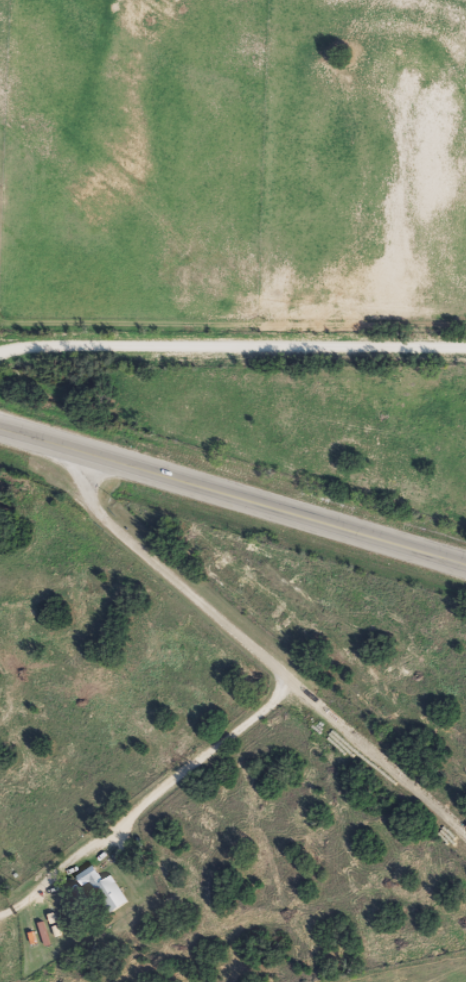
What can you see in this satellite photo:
road: (231, 357)
road: (233, 494)
road: (279, 635)
road: (171, 818)
building: (105, 896)

